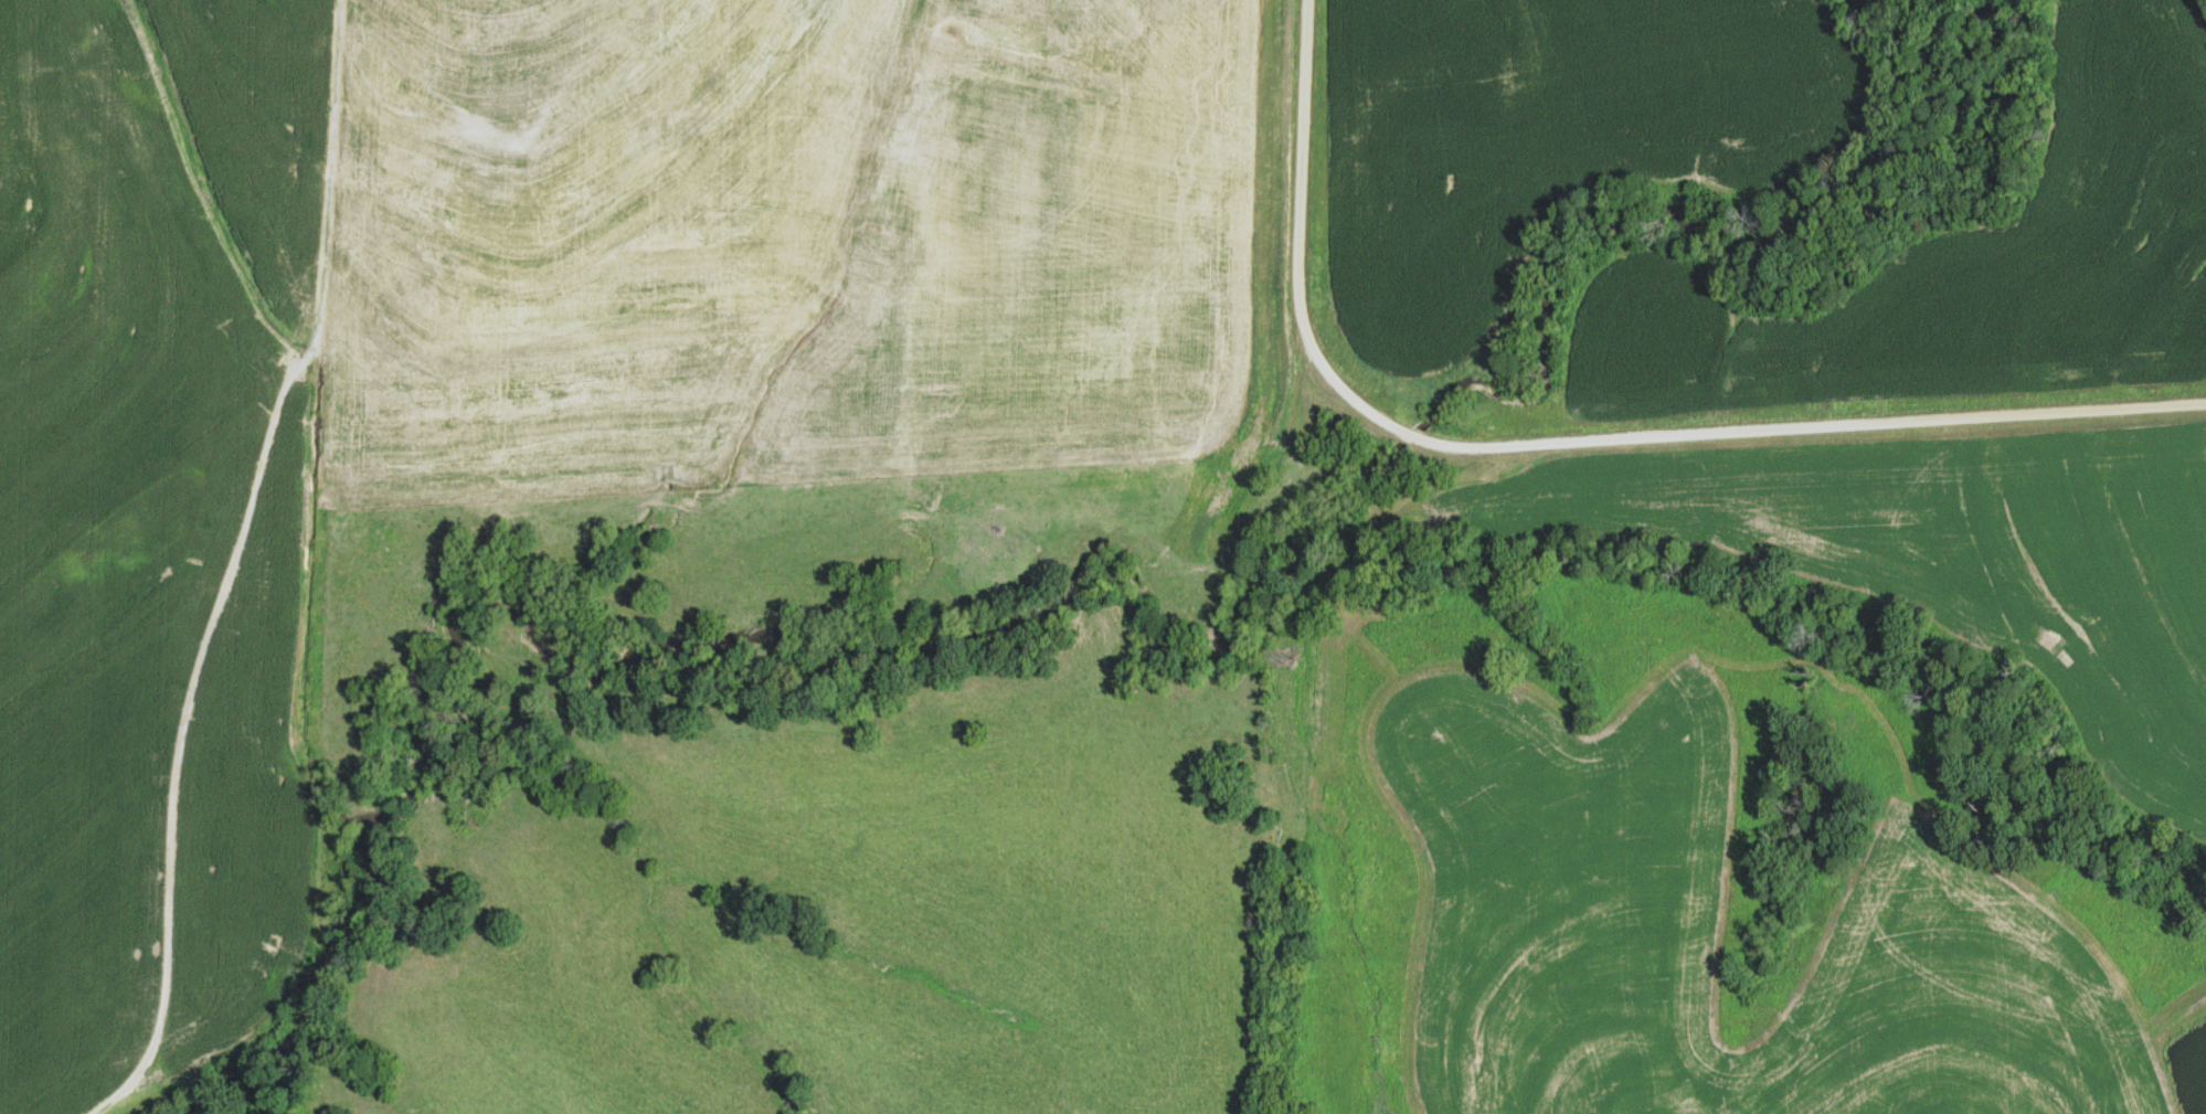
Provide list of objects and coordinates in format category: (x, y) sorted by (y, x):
road: (1566, 437)

